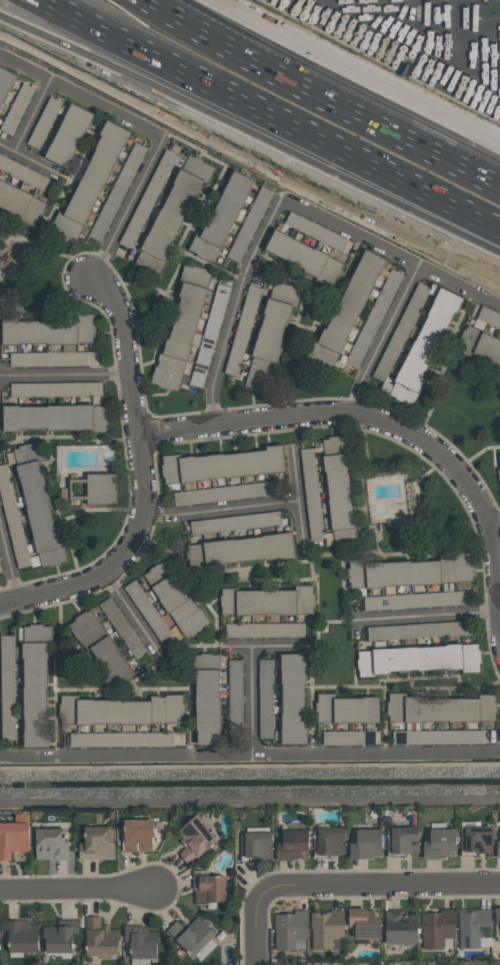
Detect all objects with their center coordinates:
road: (58, 28)
road: (51, 37)
building: (5, 82)
road: (330, 82)
road: (179, 94)
road: (79, 98)
building: (17, 108)
road: (31, 118)
building: (44, 122)
building: (68, 135)
road: (6, 149)
road: (34, 164)
building: (23, 173)
building: (91, 181)
building: (118, 191)
road: (378, 192)
building: (20, 202)
road: (127, 211)
building: (172, 215)
building: (222, 216)
building: (250, 224)
building: (317, 231)
road: (391, 254)
building: (304, 257)
road: (233, 309)
building: (346, 310)
building: (376, 314)
building: (181, 327)
building: (49, 330)
building: (243, 330)
building: (210, 333)
building: (270, 336)
building: (481, 336)
building: (427, 339)
road: (388, 341)
building: (49, 359)
road: (65, 374)
building: (56, 388)
building: (57, 417)
road: (369, 417)
road: (136, 420)
building: (499, 458)
building: (221, 465)
building: (498, 472)
building: (311, 483)
building: (339, 488)
building: (96, 489)
building: (228, 492)
road: (299, 502)
building: (39, 506)
building: (11, 508)
road: (220, 512)
road: (493, 516)
building: (235, 522)
building: (241, 549)
road: (10, 563)
building: (411, 571)
road: (53, 590)
building: (176, 600)
building: (415, 600)
building: (267, 601)
road: (128, 609)
road: (432, 617)
building: (122, 627)
building: (265, 630)
building: (418, 630)
building: (101, 648)
road: (283, 648)
building: (417, 658)
building: (35, 684)
building: (235, 693)
building: (266, 698)
building: (293, 698)
building: (207, 699)
road: (255, 701)
building: (441, 708)
building: (347, 709)
building: (121, 710)
building: (348, 737)
building: (438, 737)
building: (122, 739)
road: (250, 753)
building: (138, 834)
building: (14, 836)
building: (195, 839)
building: (403, 839)
building: (477, 839)
building: (329, 840)
building: (96, 843)
building: (366, 843)
building: (440, 843)
building: (51, 844)
building: (257, 844)
building: (293, 844)
building: (498, 848)
road: (376, 882)
building: (208, 886)
road: (77, 891)
building: (497, 916)
building: (365, 923)
building: (474, 926)
building: (437, 927)
building: (401, 928)
building: (326, 929)
building: (290, 930)
road: (257, 931)
building: (61, 935)
building: (192, 935)
building: (21, 936)
building: (100, 937)
building: (141, 941)

